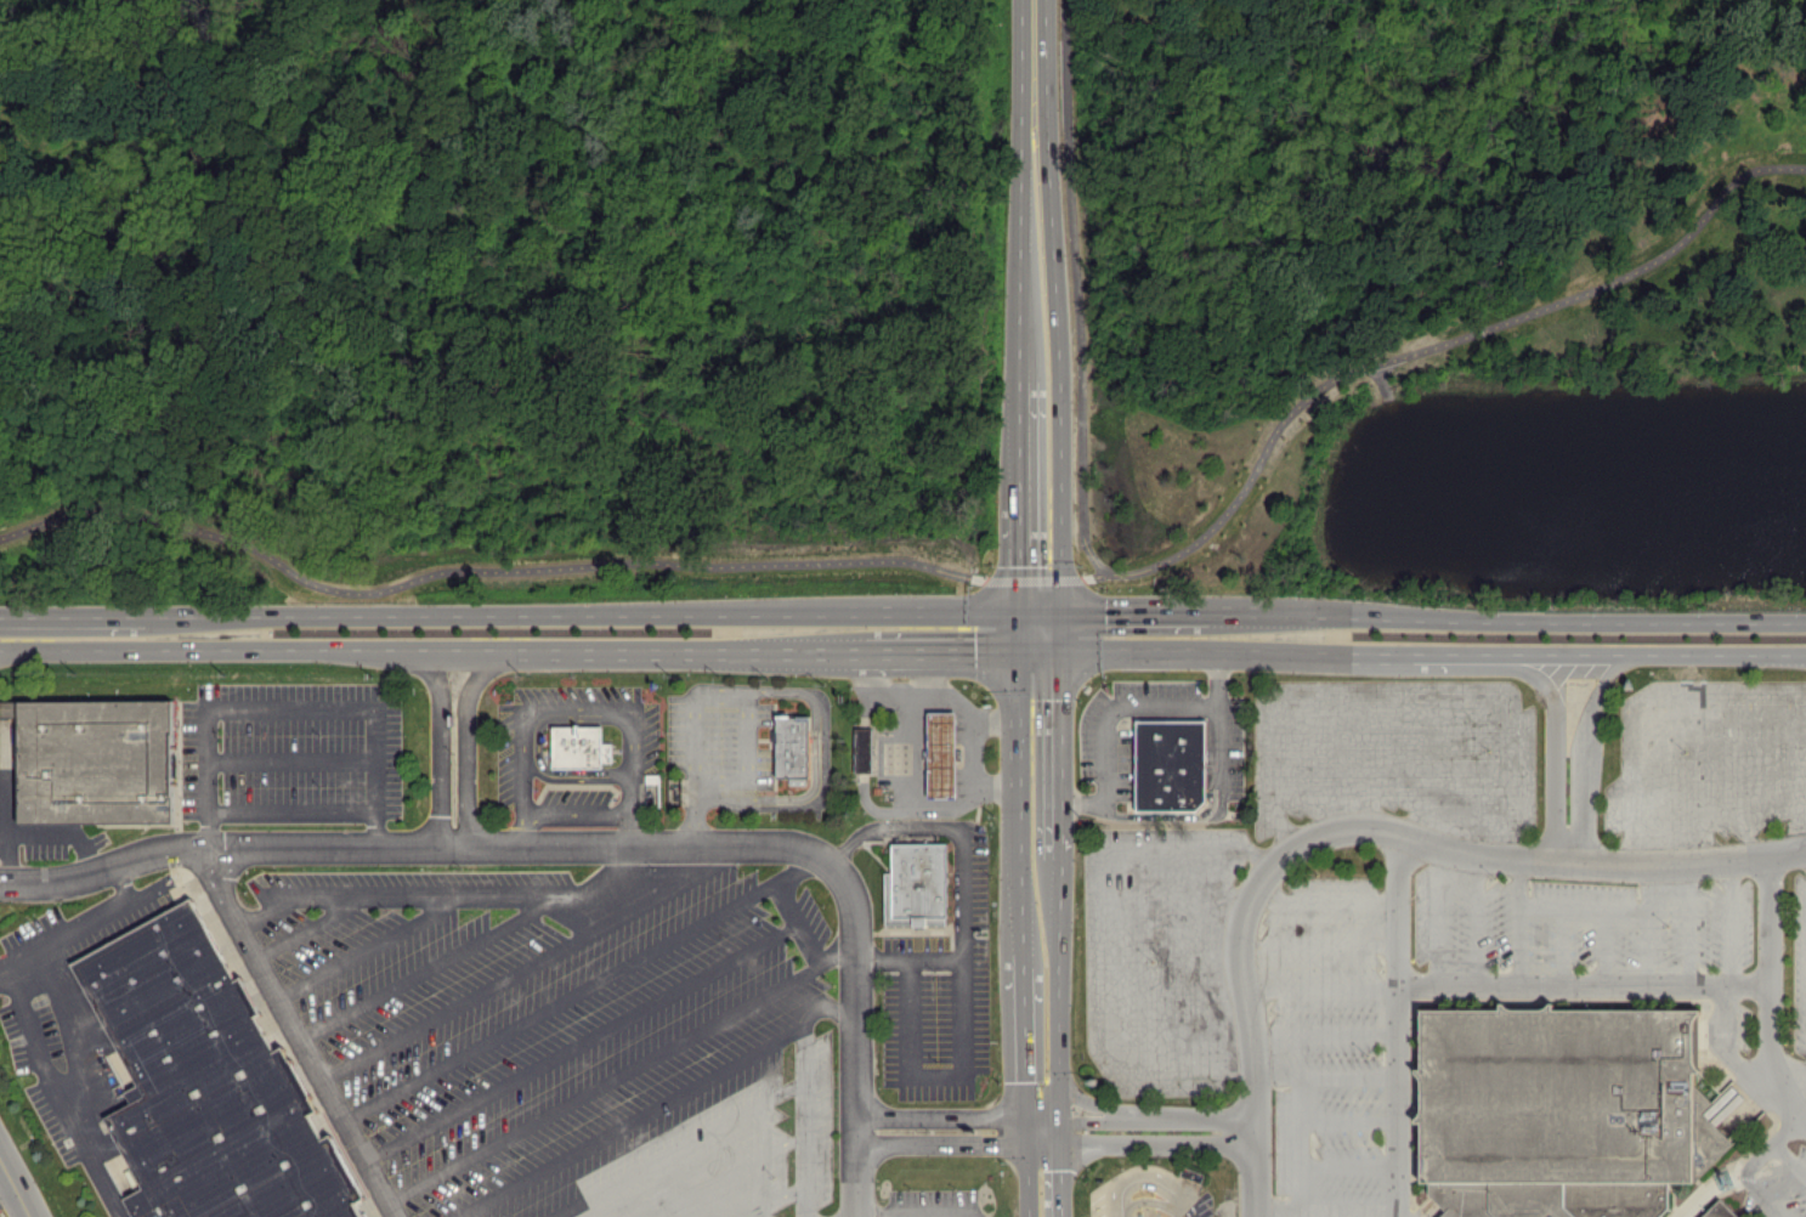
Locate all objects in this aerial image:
road: (1036, 189)
road: (264, 237)
road: (1607, 278)
road: (1078, 295)
road: (1383, 381)
road: (1037, 429)
road: (1240, 491)
road: (1037, 543)
road: (482, 568)
road: (1034, 578)
traffic signals: (1037, 607)
road: (590, 610)
road: (1132, 610)
road: (72, 617)
road: (1516, 617)
road: (1037, 628)
road: (2, 647)
road: (261, 647)
road: (623, 647)
road: (798, 647)
road: (952, 647)
road: (2, 649)
traffic signals: (1037, 650)
road: (1116, 651)
road: (1298, 653)
road: (1657, 655)
road: (1455, 656)
road: (922, 678)
road: (1392, 700)
road: (1119, 707)
road: (1643, 707)
road: (291, 708)
road: (538, 709)
road: (975, 717)
road: (440, 735)
road: (469, 736)
road: (1556, 737)
parking lot: (723, 740)
road: (695, 743)
road: (1218, 745)
road: (540, 746)
building: (583, 746)
building: (796, 747)
road: (1037, 747)
building: (865, 748)
parking lot: (515, 749)
road: (976, 752)
parking lot: (291, 753)
building: (944, 753)
gas station: (944, 753)
parking lot: (1397, 754)
road: (1585, 754)
parking lot: (1104, 758)
building: (97, 759)
road: (291, 759)
road: (748, 762)
building: (1166, 763)
road: (1368, 764)
parking lot: (1709, 764)
road: (1321, 766)
road: (1417, 770)
road: (1791, 774)
road: (915, 775)
road: (1748, 776)
road: (823, 777)
road: (1468, 777)
road: (1705, 780)
road: (1660, 781)
road: (12, 799)
road: (1072, 802)
road: (633, 809)
road: (293, 813)
road: (578, 813)
road: (1167, 816)
road: (1338, 830)
road: (67, 833)
road: (554, 847)
road: (1038, 851)
road: (1788, 851)
road: (799, 870)
road: (610, 871)
road: (124, 884)
building: (919, 885)
road: (1181, 893)
road: (398, 895)
road: (1325, 900)
road: (1584, 907)
road: (1038, 913)
road: (104, 917)
road: (1436, 917)
road: (1478, 922)
road: (798, 923)
road: (1519, 923)
road: (1729, 923)
parking lot: (1579, 924)
road: (1688, 926)
road: (312, 927)
road: (1649, 927)
road: (1173, 934)
road: (1105, 938)
road: (1320, 945)
road: (372, 946)
road: (1561, 946)
road: (1603, 947)
road: (839, 953)
parking lot: (1161, 956)
road: (912, 958)
road: (536, 962)
parking lot: (1797, 963)
road: (434, 968)
road: (967, 972)
road: (1176, 978)
road: (1323, 987)
road: (1585, 987)
road: (1772, 991)
parking lot: (941, 992)
road: (560, 1001)
road: (831, 1009)
road: (1179, 1023)
road: (1399, 1026)
road: (296, 1032)
parking lot: (572, 1034)
road: (1326, 1034)
parking lot: (55, 1036)
road: (582, 1041)
parking lot: (1325, 1045)
road: (73, 1046)
road: (1040, 1049)
road: (1725, 1049)
road: (1326, 1075)
building: (211, 1083)
road: (605, 1083)
road: (57, 1097)
building: (1561, 1111)
road: (629, 1120)
road: (805, 1120)
road: (1348, 1120)
road: (950, 1132)
road: (1148, 1132)
traffic signals: (1041, 1133)
road: (1297, 1143)
road: (679, 1148)
road: (1790, 1161)
road: (1756, 1164)
road: (1348, 1166)
road: (1147, 1171)
parking lot: (1778, 1172)
road: (728, 1174)
road: (859, 1174)
road: (1042, 1174)
road: (15, 1187)
road: (1149, 1188)
road: (775, 1200)
parking lot: (934, 1202)
road: (1148, 1202)
parking lot: (1200, 1207)
road: (1326, 1211)
building: (1720, 1211)
road: (851, 1213)

